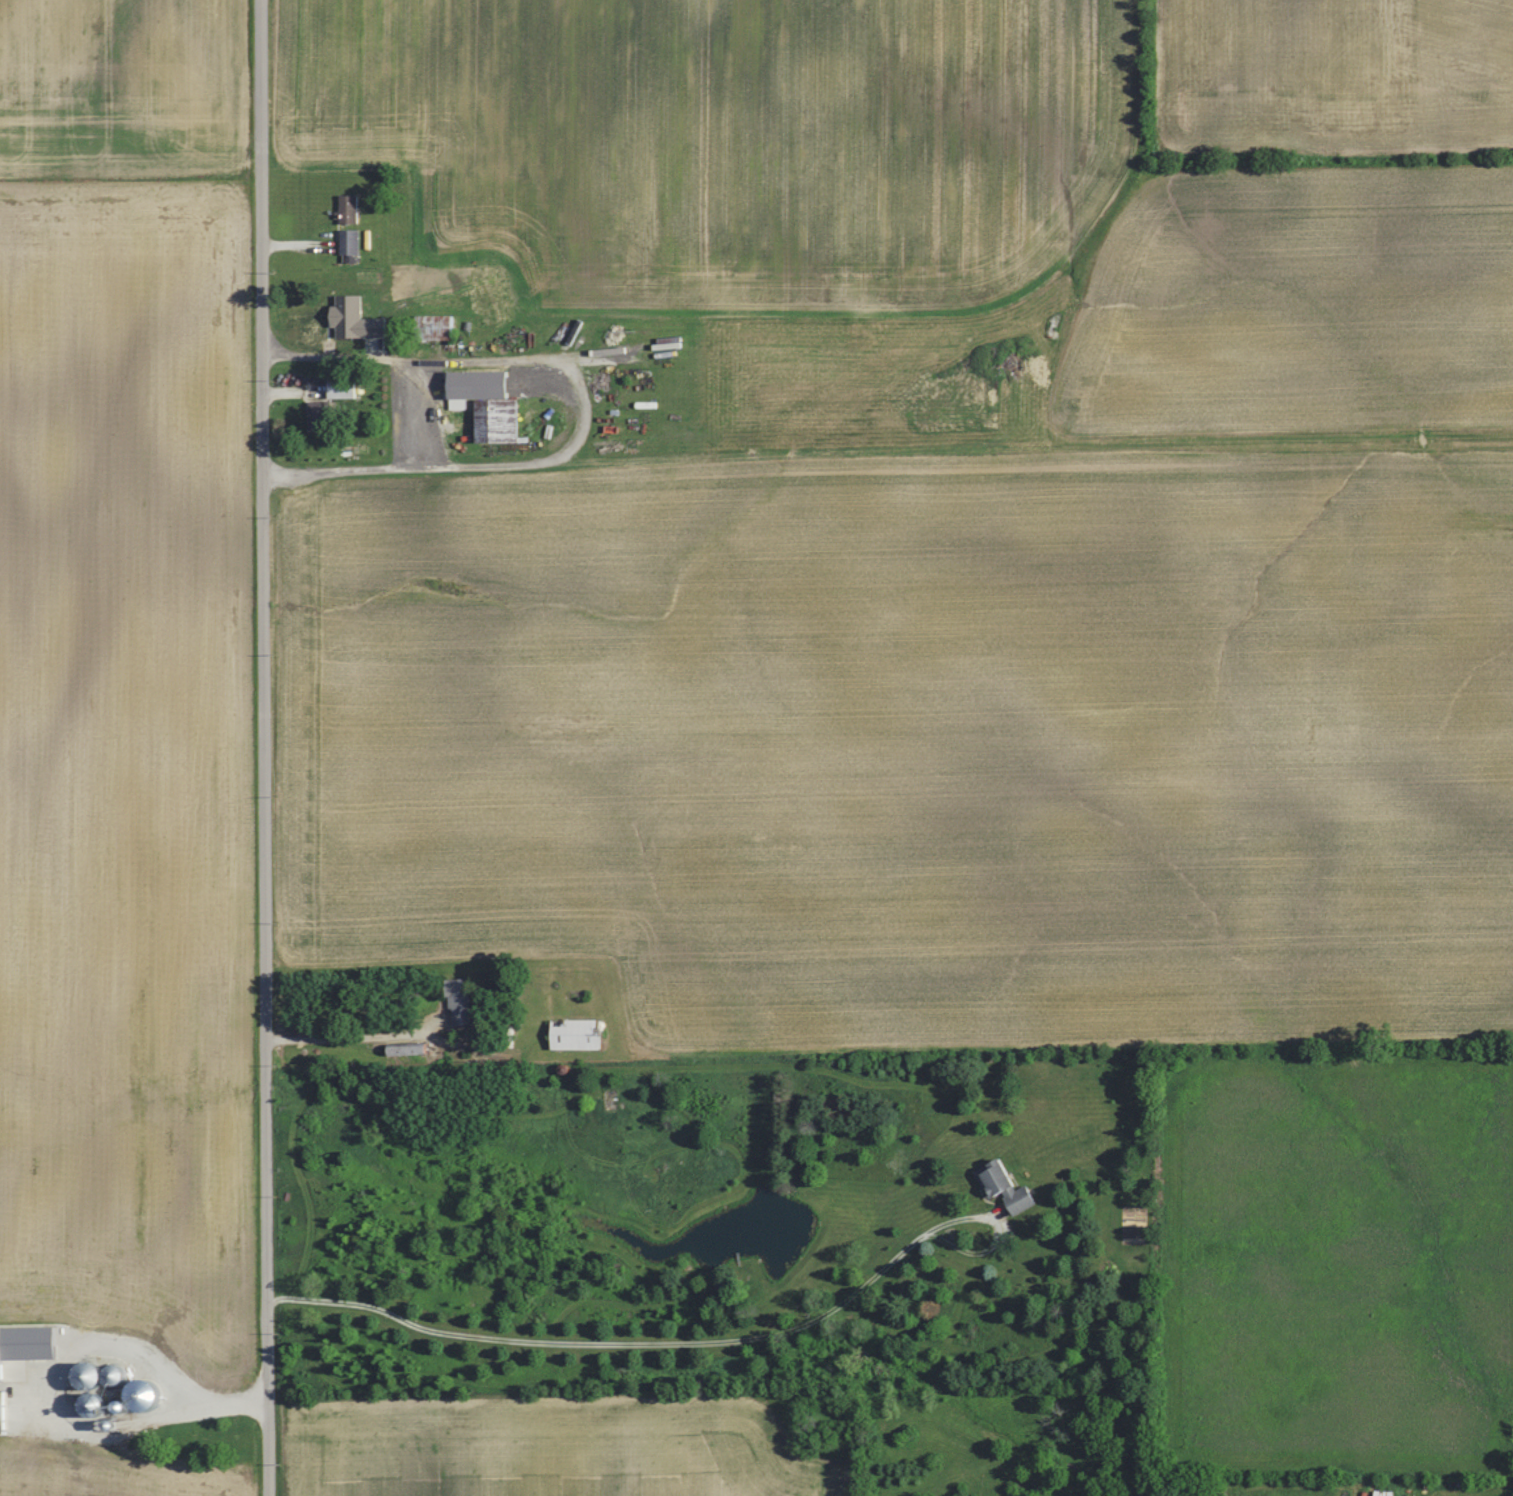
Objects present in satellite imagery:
building: (346, 208)
building: (346, 241)
building: (350, 318)
building: (430, 326)
building: (336, 390)
building: (482, 402)
building: (315, 409)
road: (582, 409)
road: (263, 748)
building: (455, 994)
building: (570, 1034)
road: (353, 1037)
building: (402, 1049)
building: (1000, 1186)
road: (696, 1340)
building: (28, 1346)
building: (6, 1411)
road: (164, 1411)

